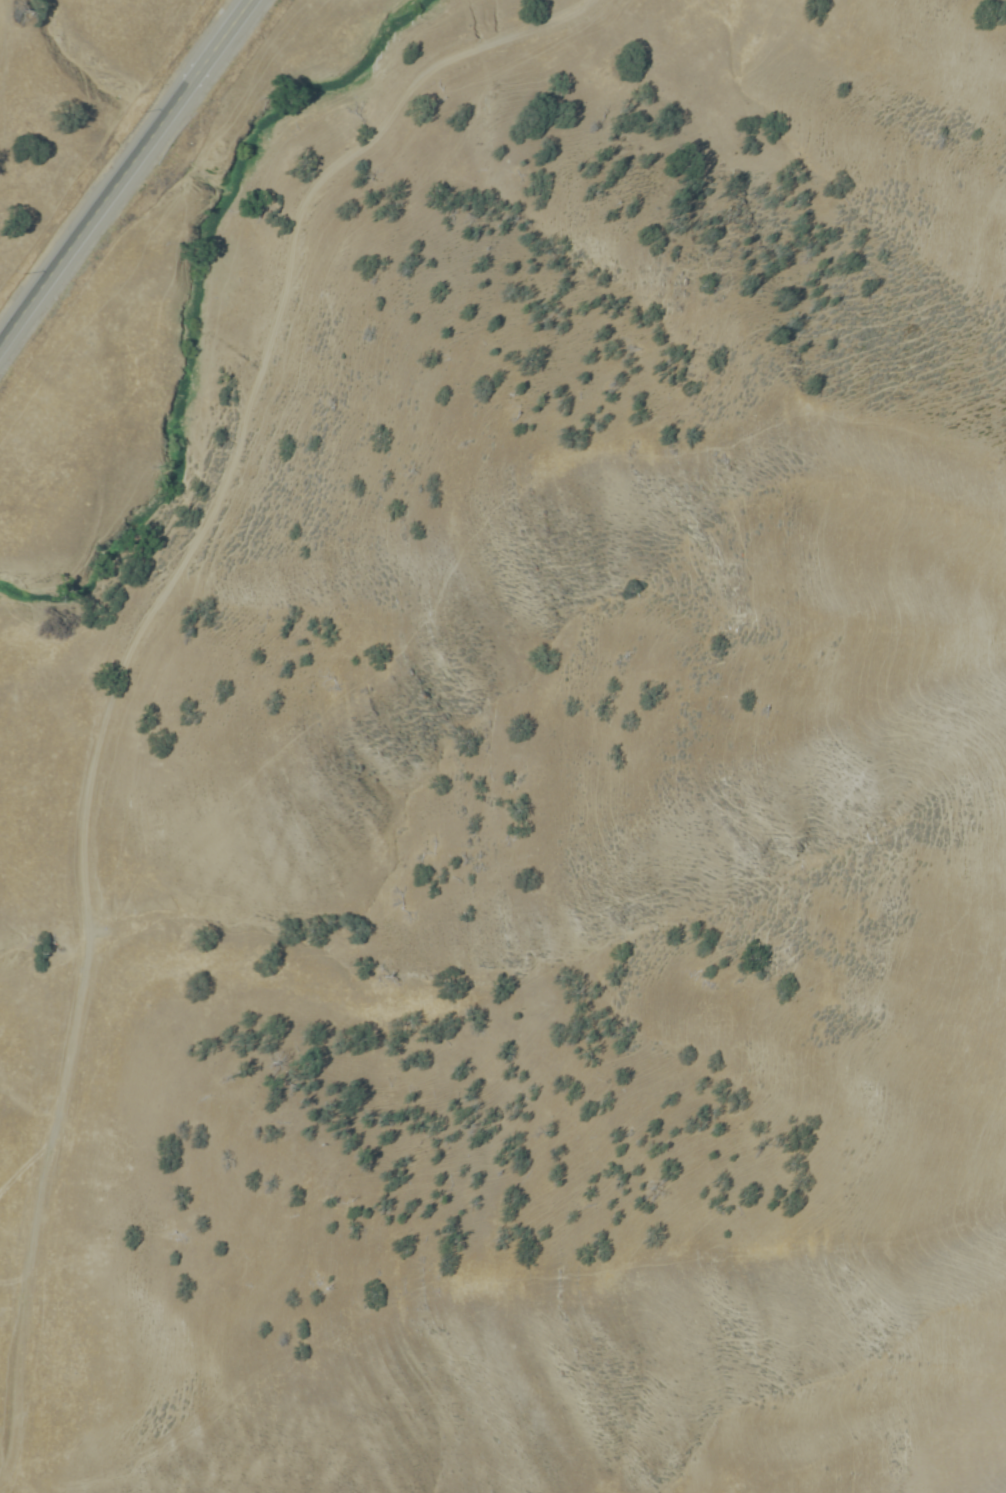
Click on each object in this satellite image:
road: (124, 171)
road: (176, 656)

